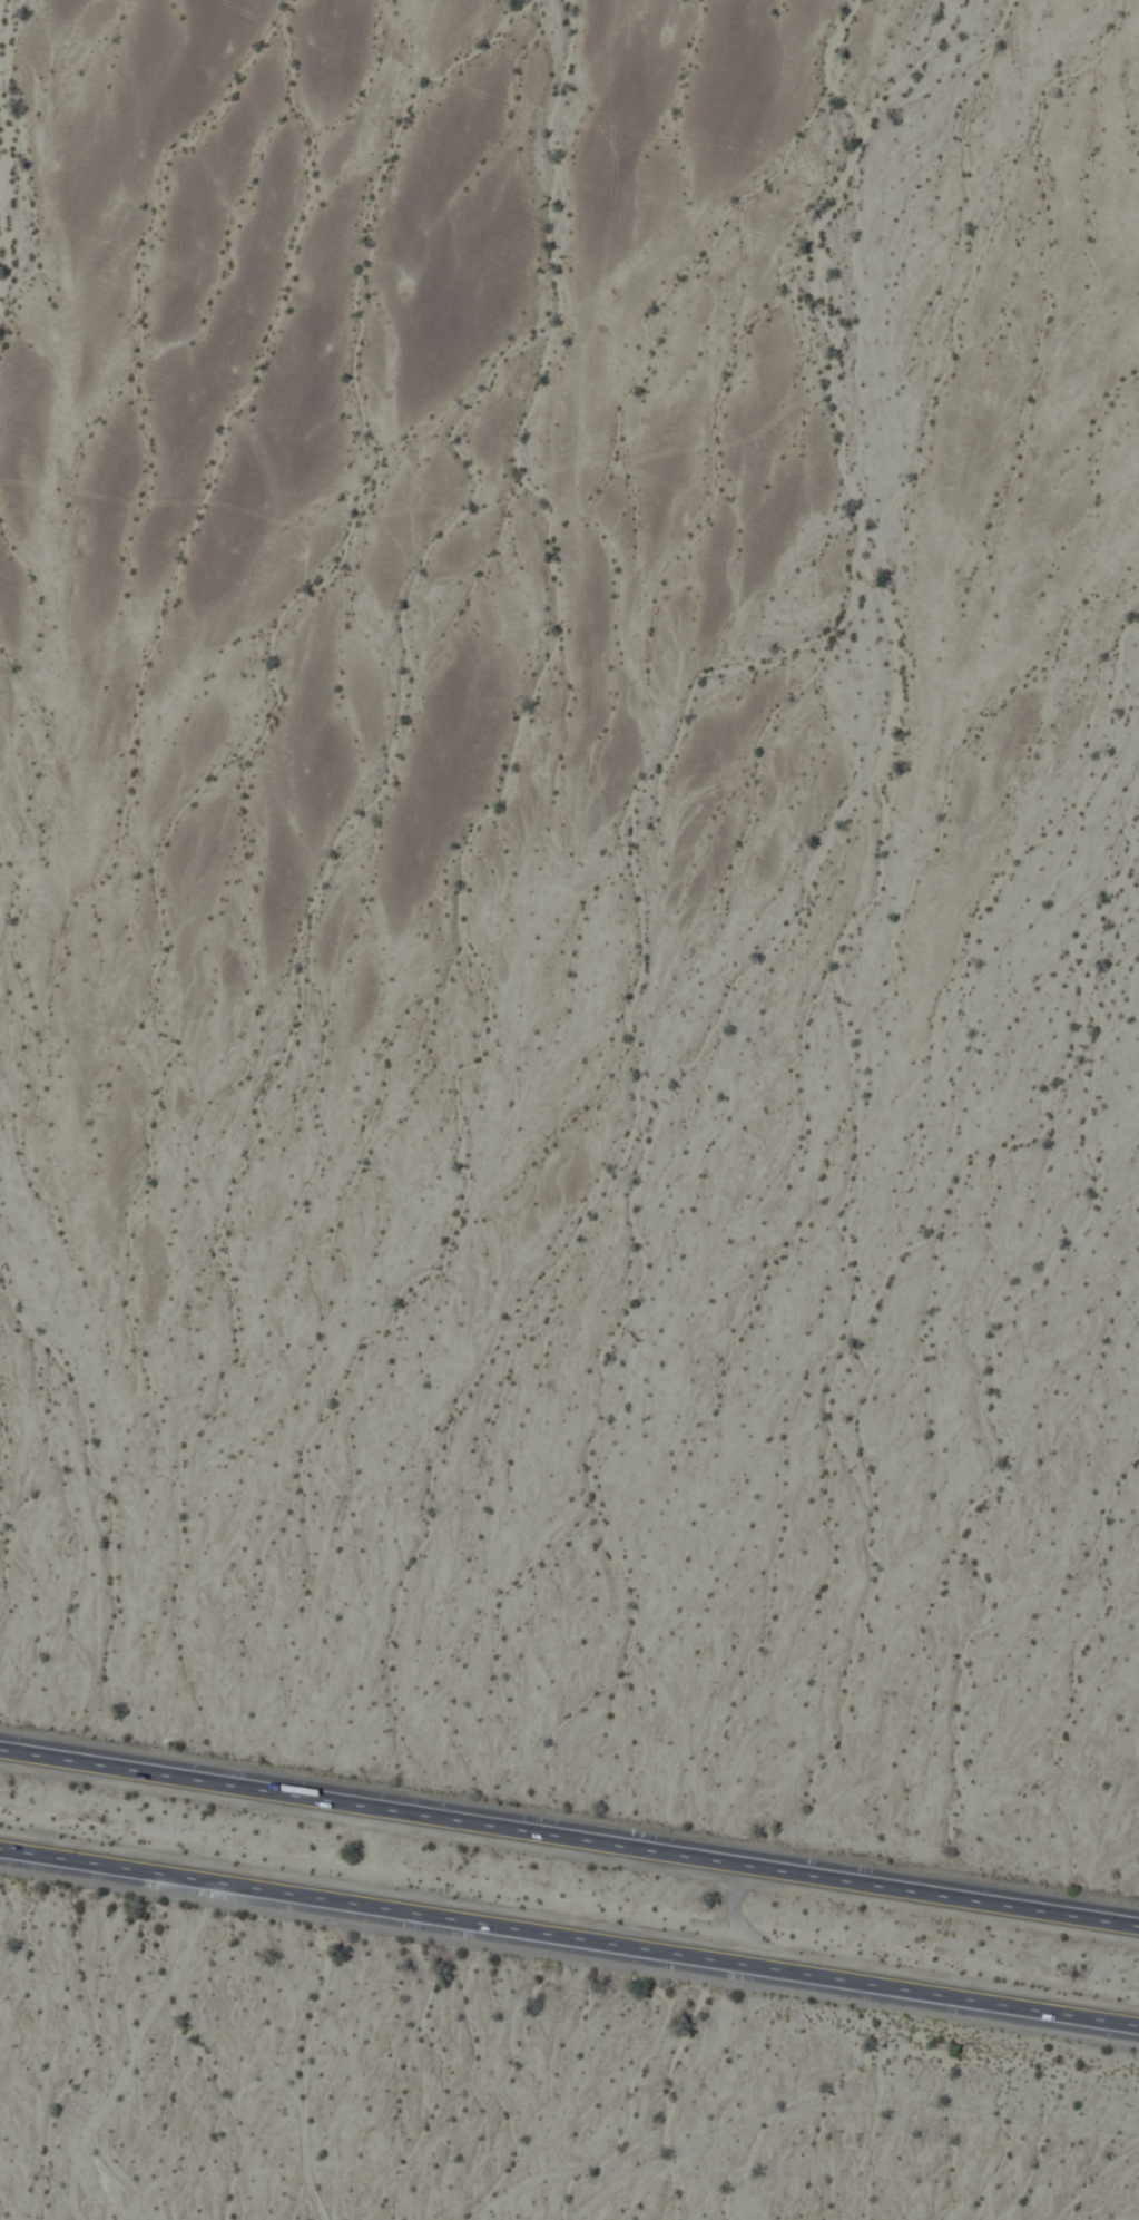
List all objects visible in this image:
road: (569, 1832)
road: (569, 1943)

